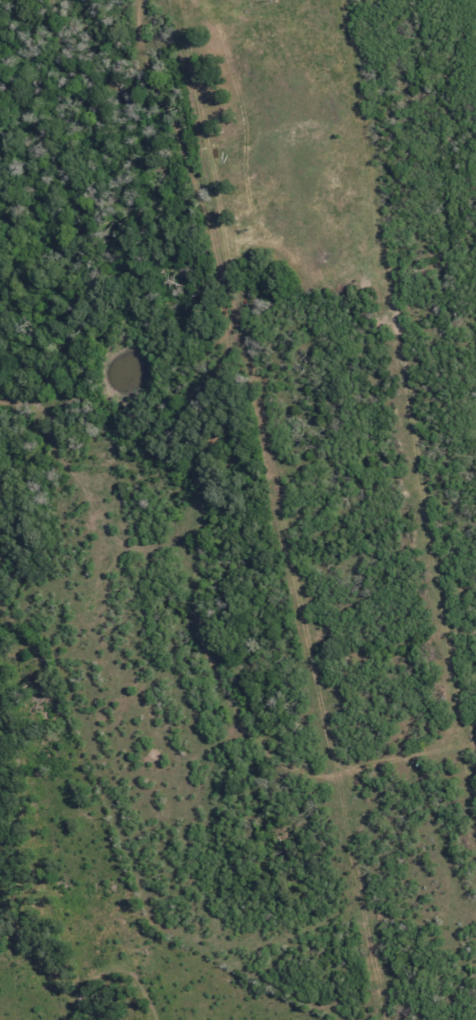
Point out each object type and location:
building: (218, 0)
road: (180, 148)

